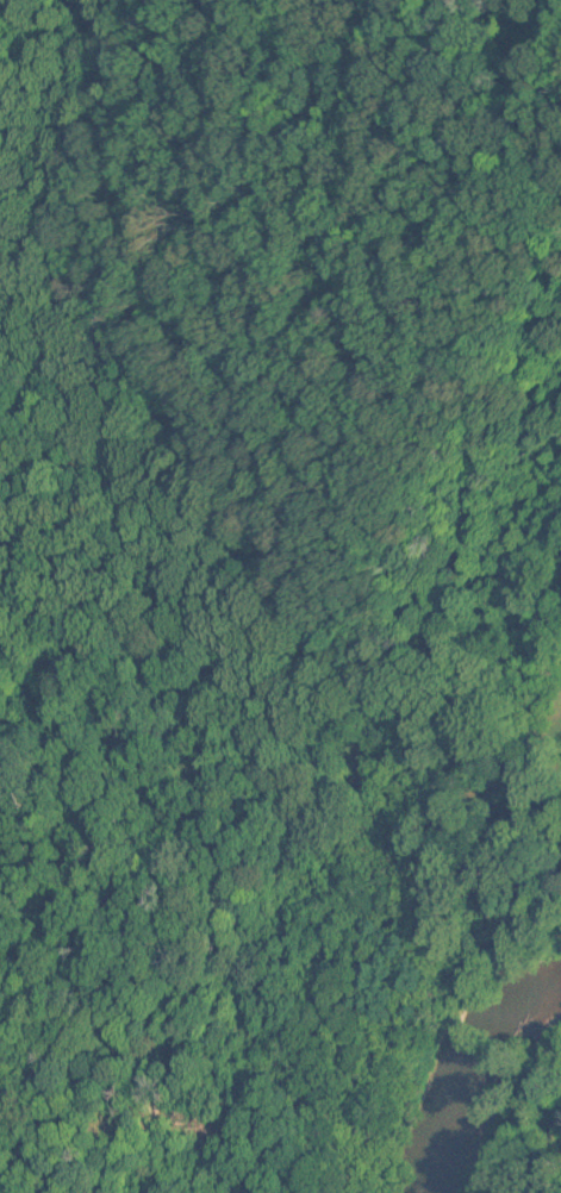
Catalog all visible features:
park: (255, 1006)
river: (457, 1067)

